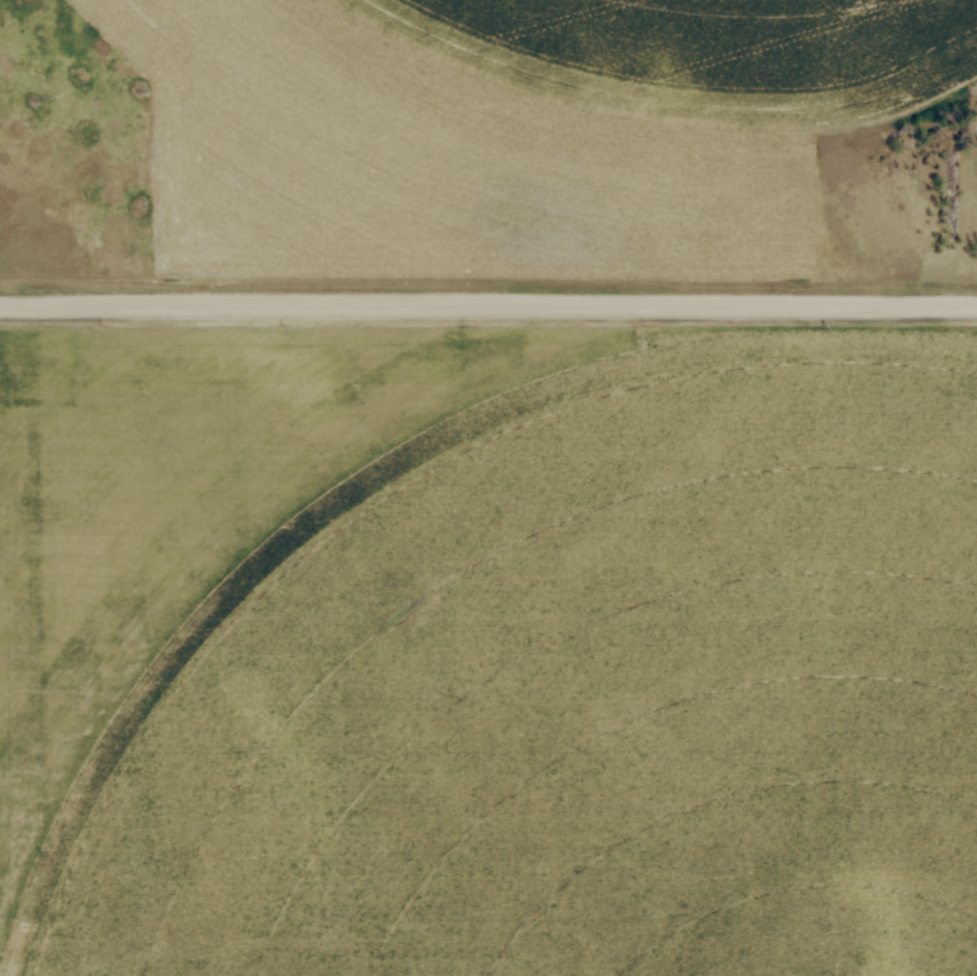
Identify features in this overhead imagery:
road: (488, 306)

